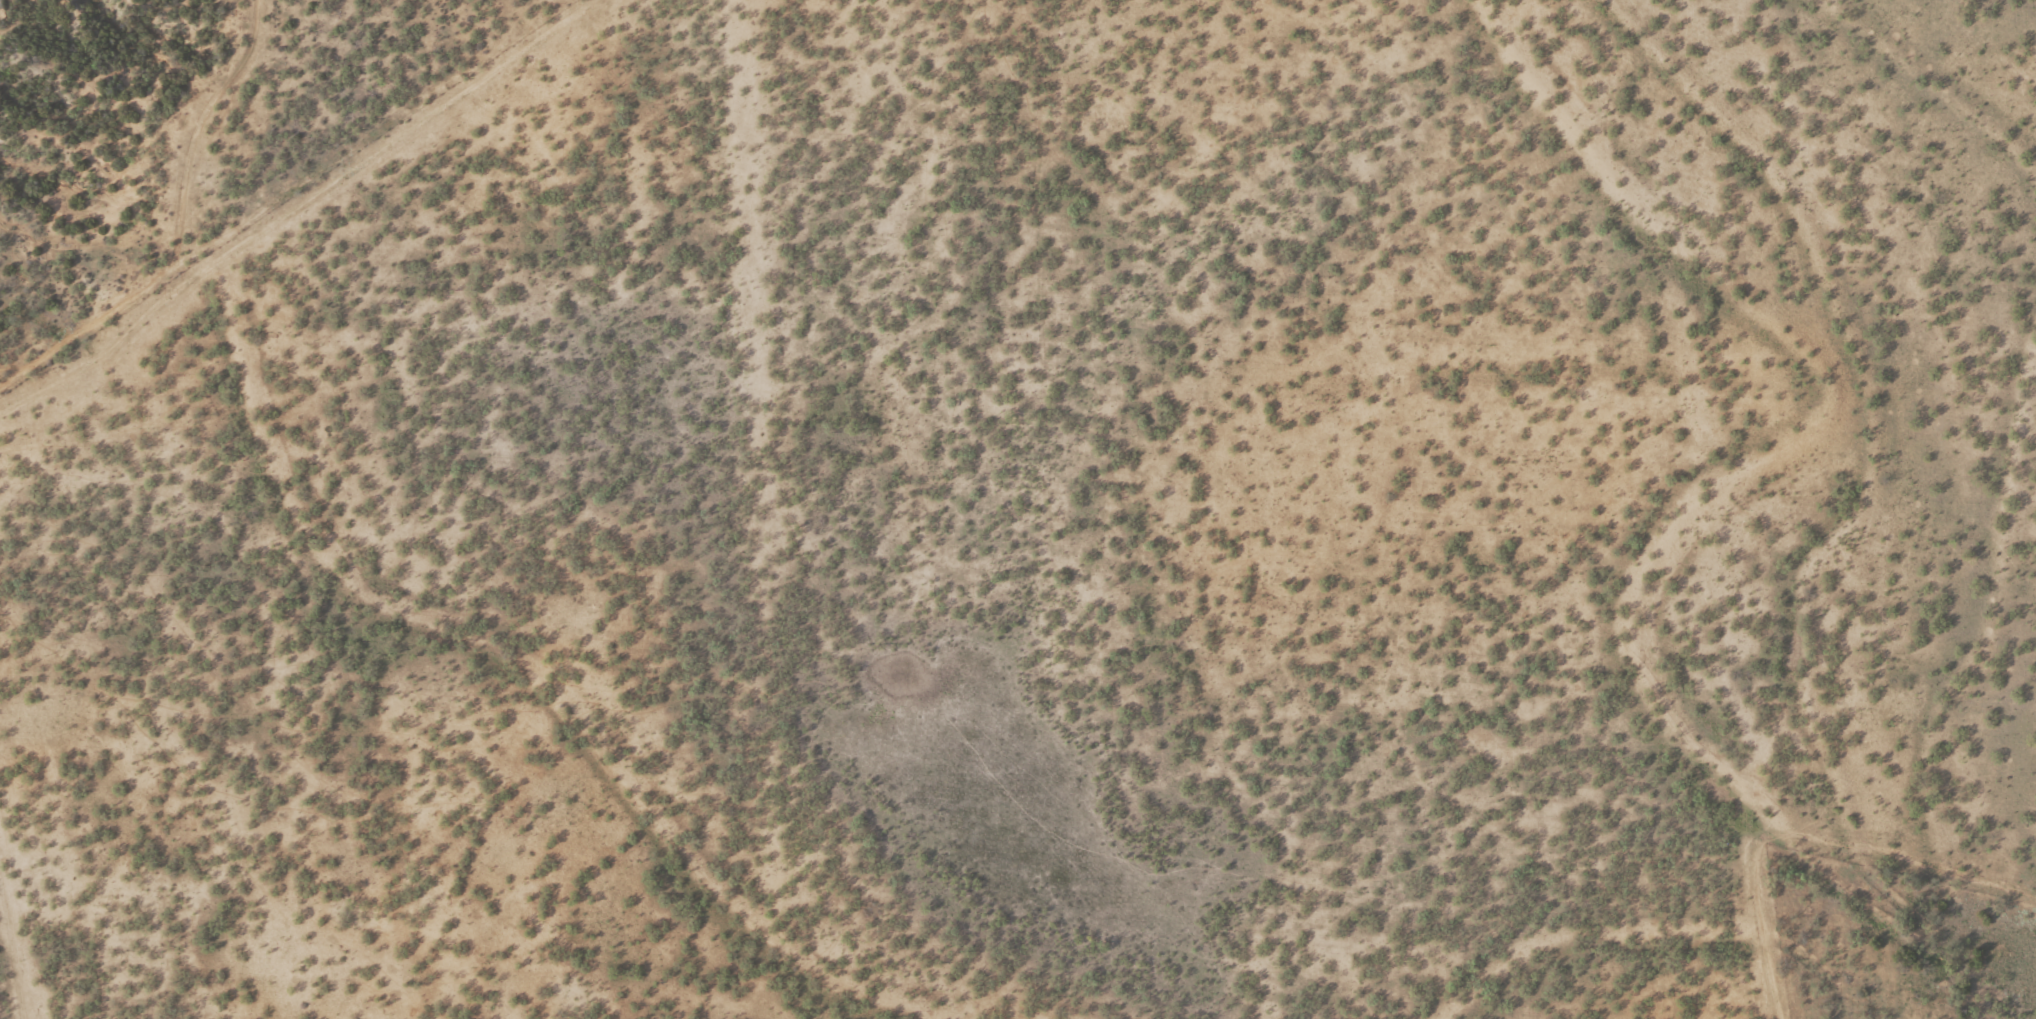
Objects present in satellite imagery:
road: (124, 182)

